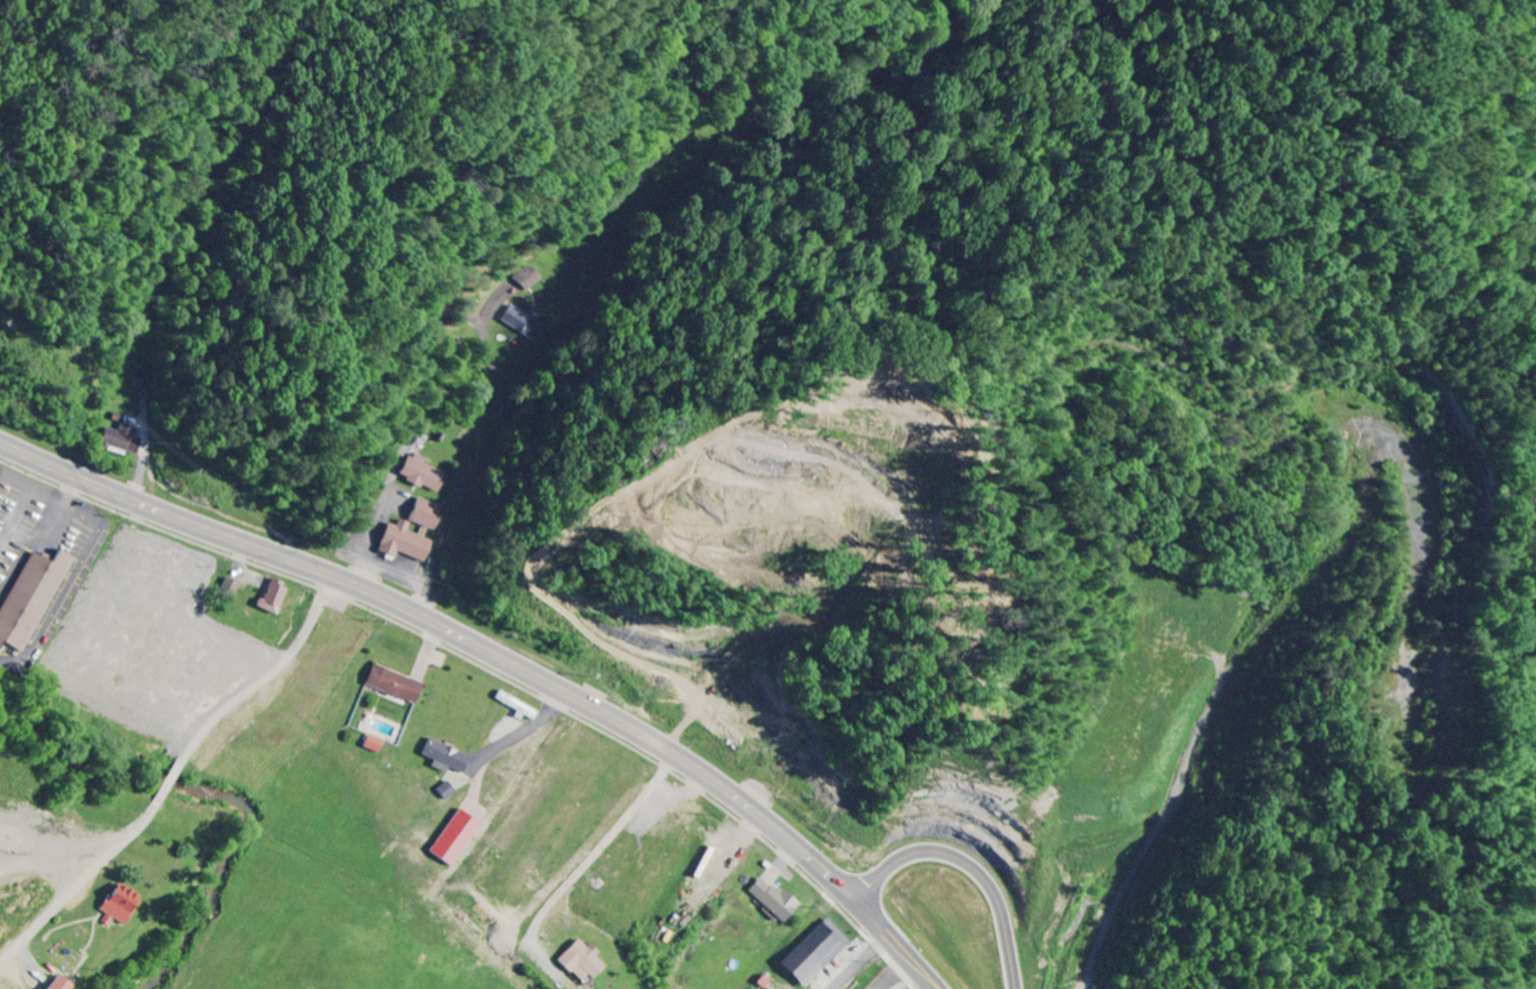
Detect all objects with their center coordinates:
building: (532, 278)
building: (525, 323)
building: (143, 379)
building: (121, 441)
road: (486, 453)
building: (424, 474)
building: (428, 514)
building: (406, 542)
building: (230, 589)
building: (274, 596)
building: (29, 598)
road: (502, 656)
road: (272, 676)
building: (394, 684)
road: (1209, 696)
building: (516, 706)
building: (373, 744)
building: (446, 757)
road: (170, 784)
river: (202, 796)
building: (455, 838)
road: (599, 848)
road: (976, 861)
road: (77, 890)
building: (775, 900)
building: (117, 906)
building: (816, 953)
building: (582, 962)
road: (861, 964)
building: (56, 984)
building: (770, 988)

